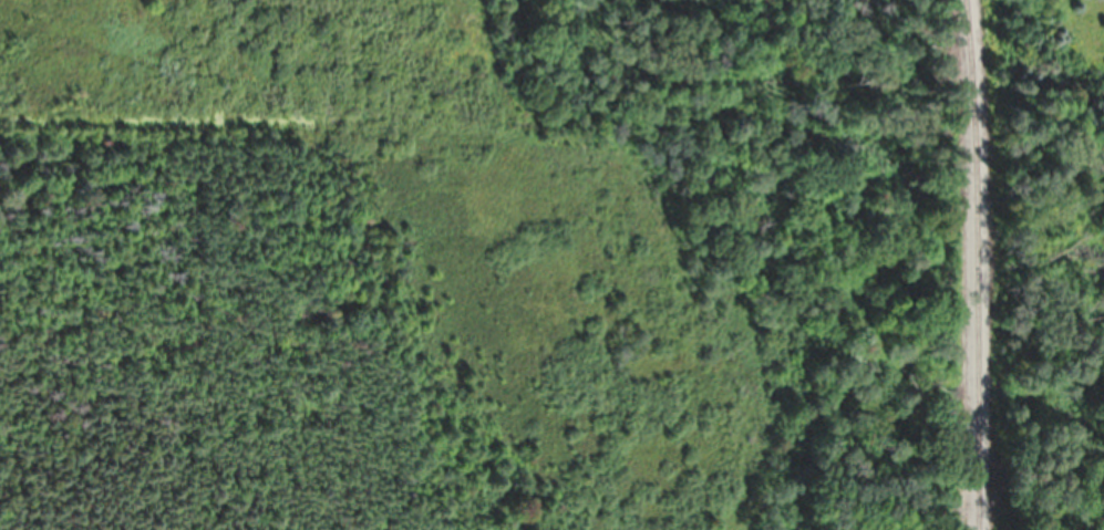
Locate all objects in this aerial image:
railway: (976, 264)

